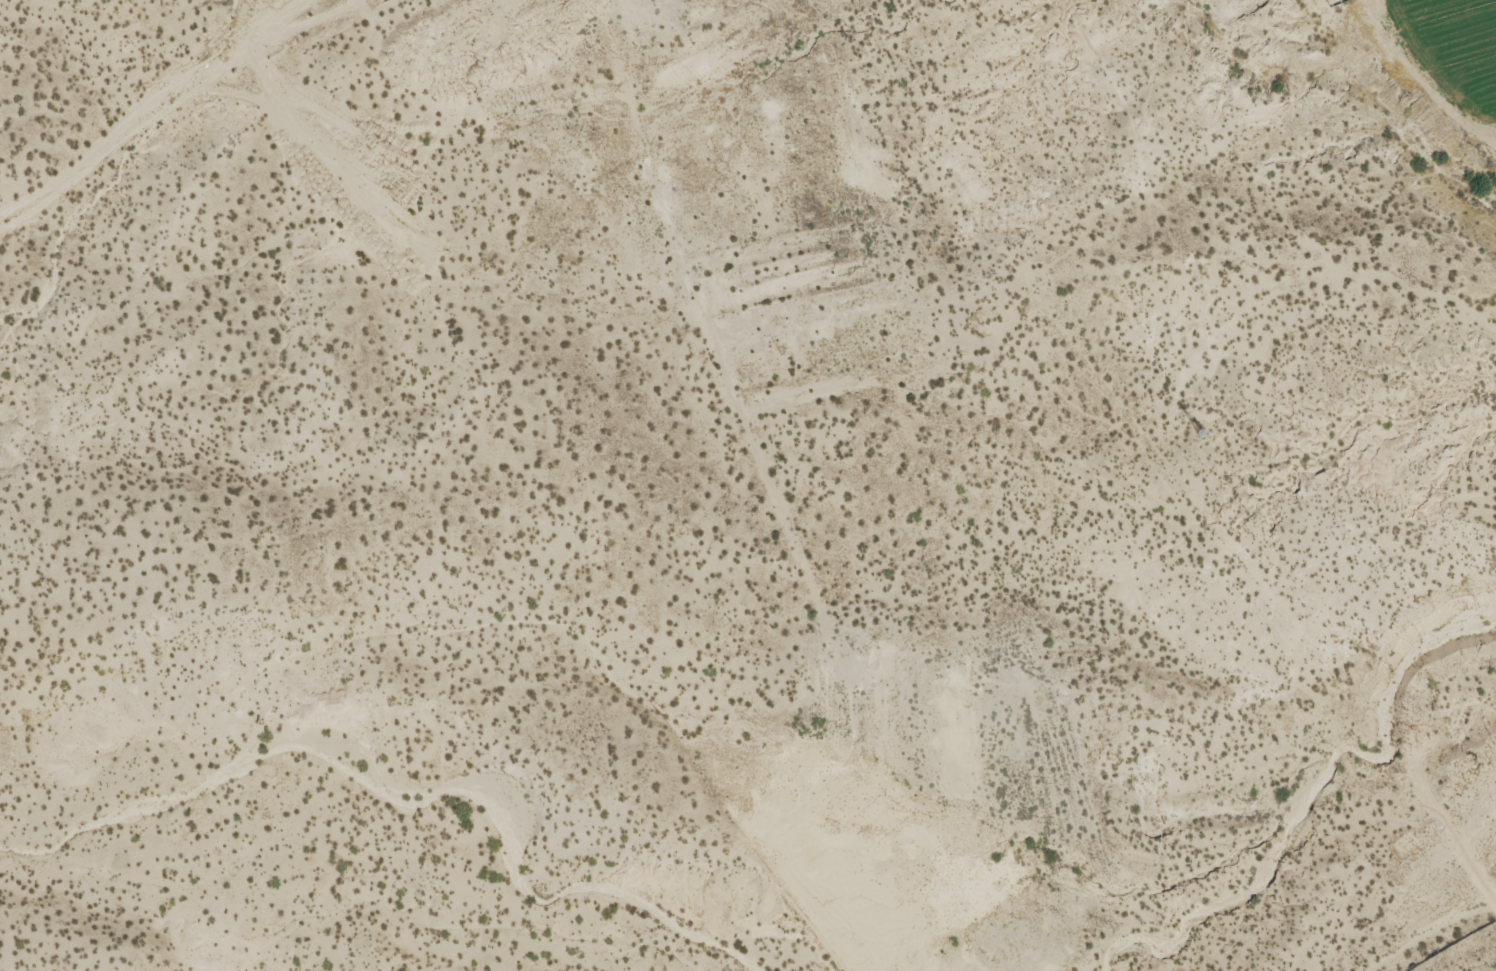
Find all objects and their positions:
power tower: (1201, 432)

